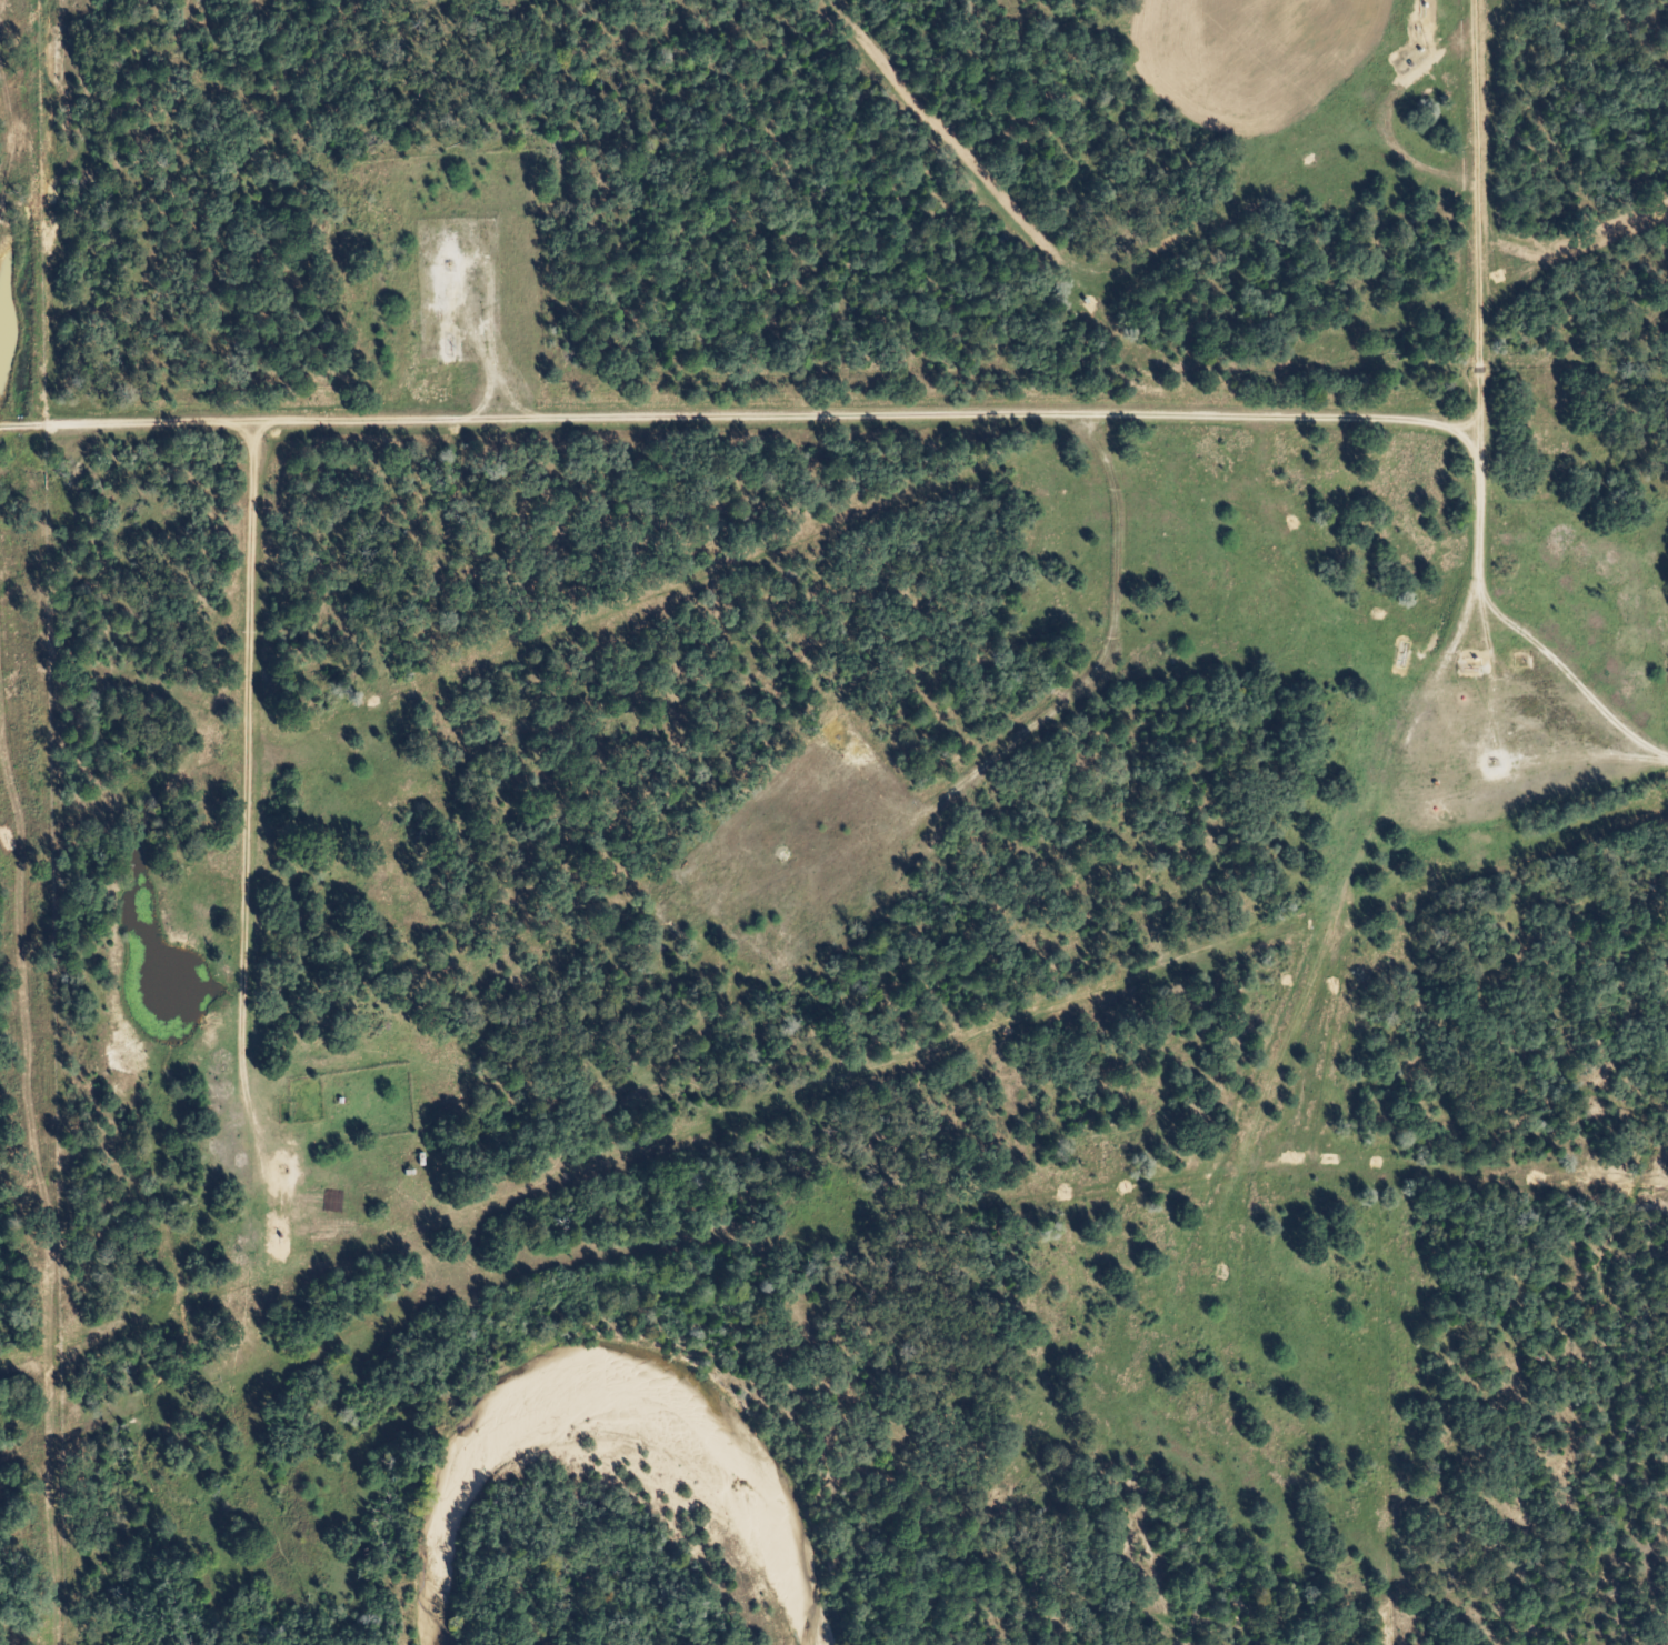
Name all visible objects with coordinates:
road: (739, 423)
road: (1479, 611)
road: (1565, 714)
road: (257, 833)

